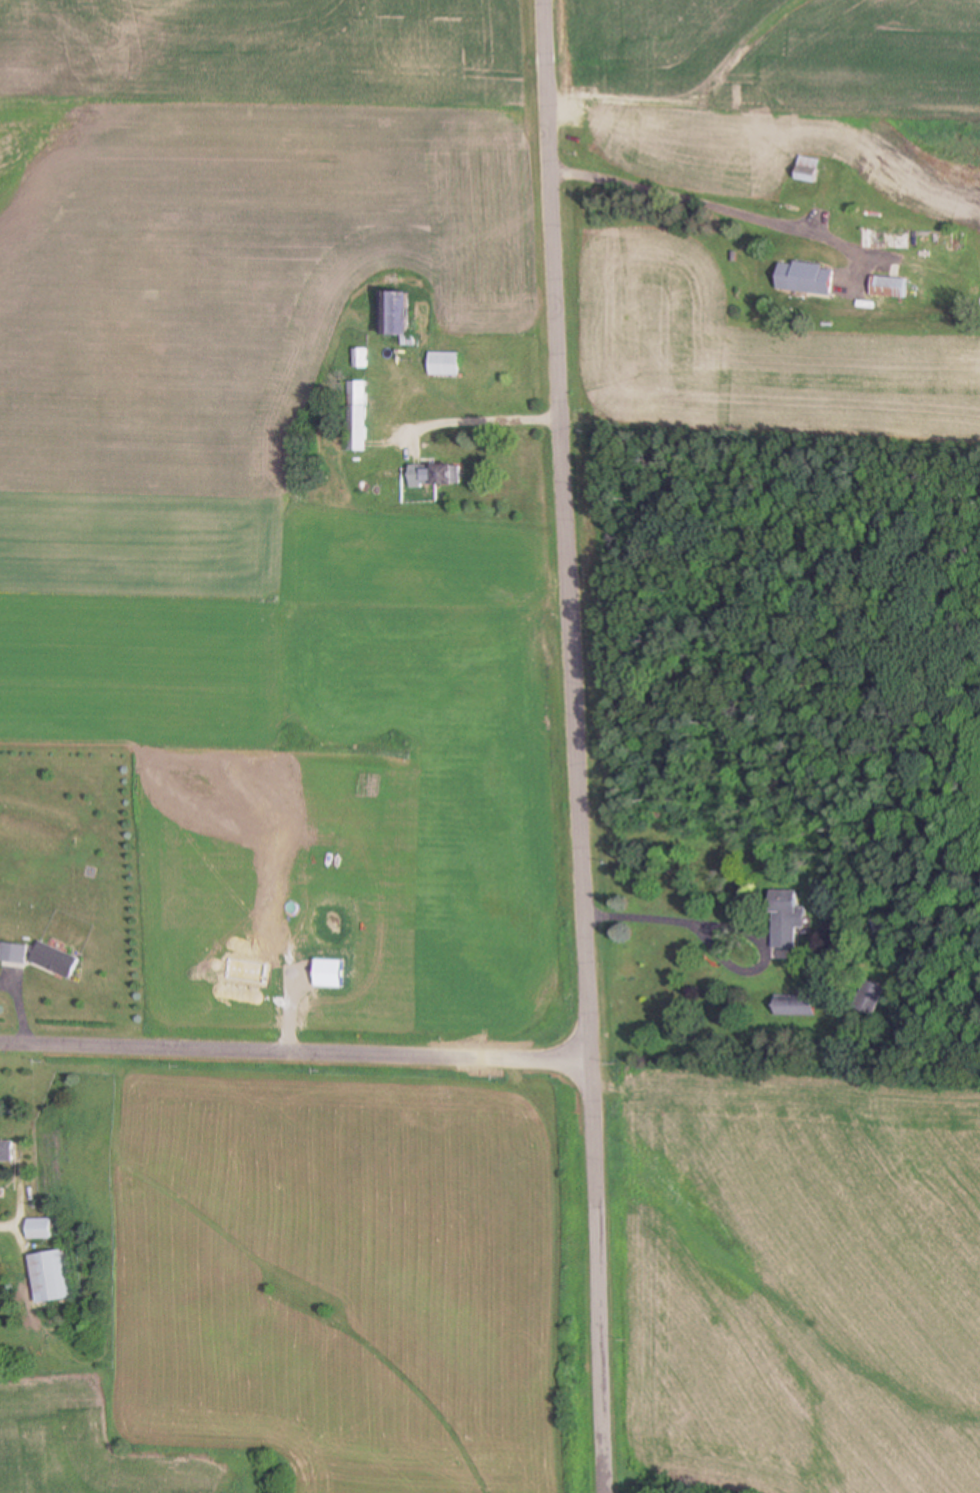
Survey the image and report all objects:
building: (811, 164)
building: (913, 242)
building: (796, 275)
building: (891, 288)
building: (856, 295)
building: (395, 315)
building: (362, 359)
building: (464, 372)
building: (359, 417)
road: (485, 419)
building: (438, 477)
road: (576, 746)
road: (645, 916)
building: (787, 919)
building: (14, 951)
building: (55, 958)
building: (871, 998)
building: (795, 1009)
road: (294, 1049)
building: (7, 1151)
road: (9, 1228)
building: (40, 1229)
building: (50, 1277)

